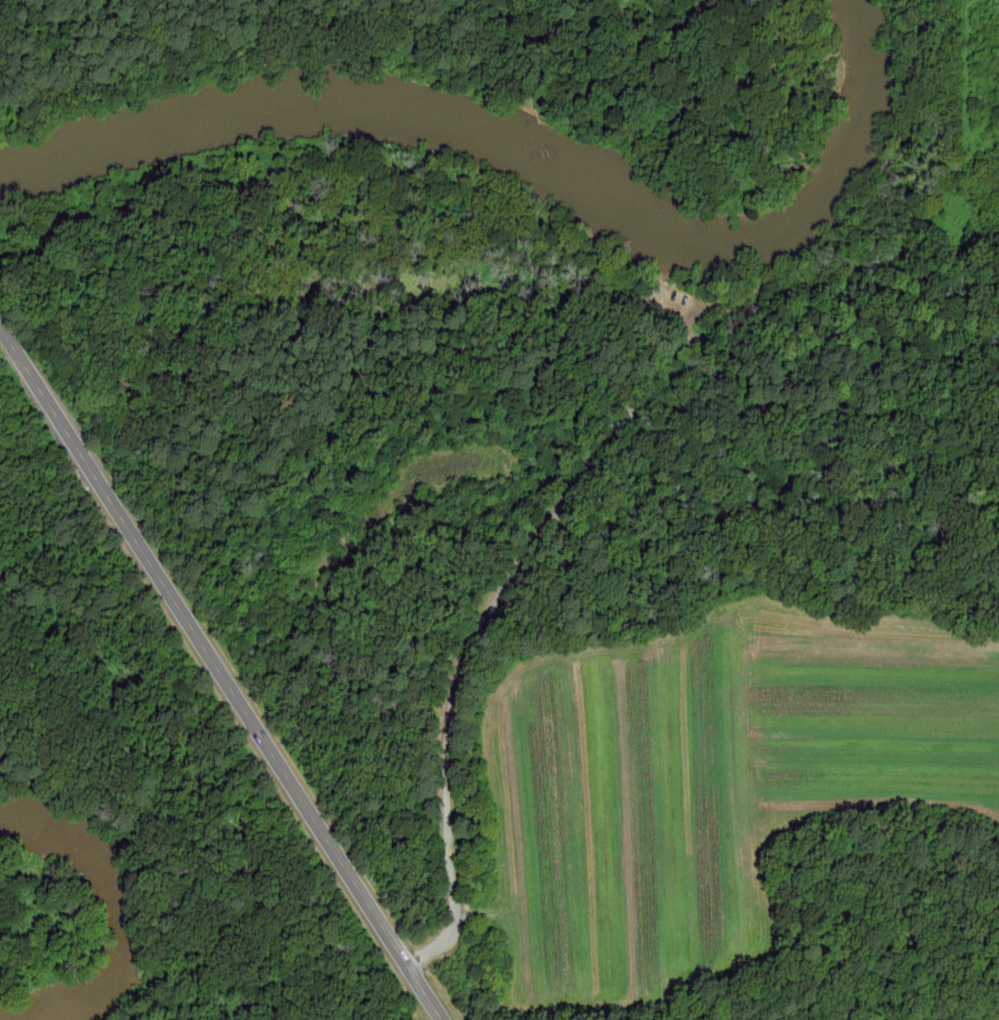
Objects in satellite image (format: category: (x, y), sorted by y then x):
river: (521, 165)
road: (943, 188)
road: (505, 587)
road: (204, 644)
road: (425, 993)
road: (964, 1003)

